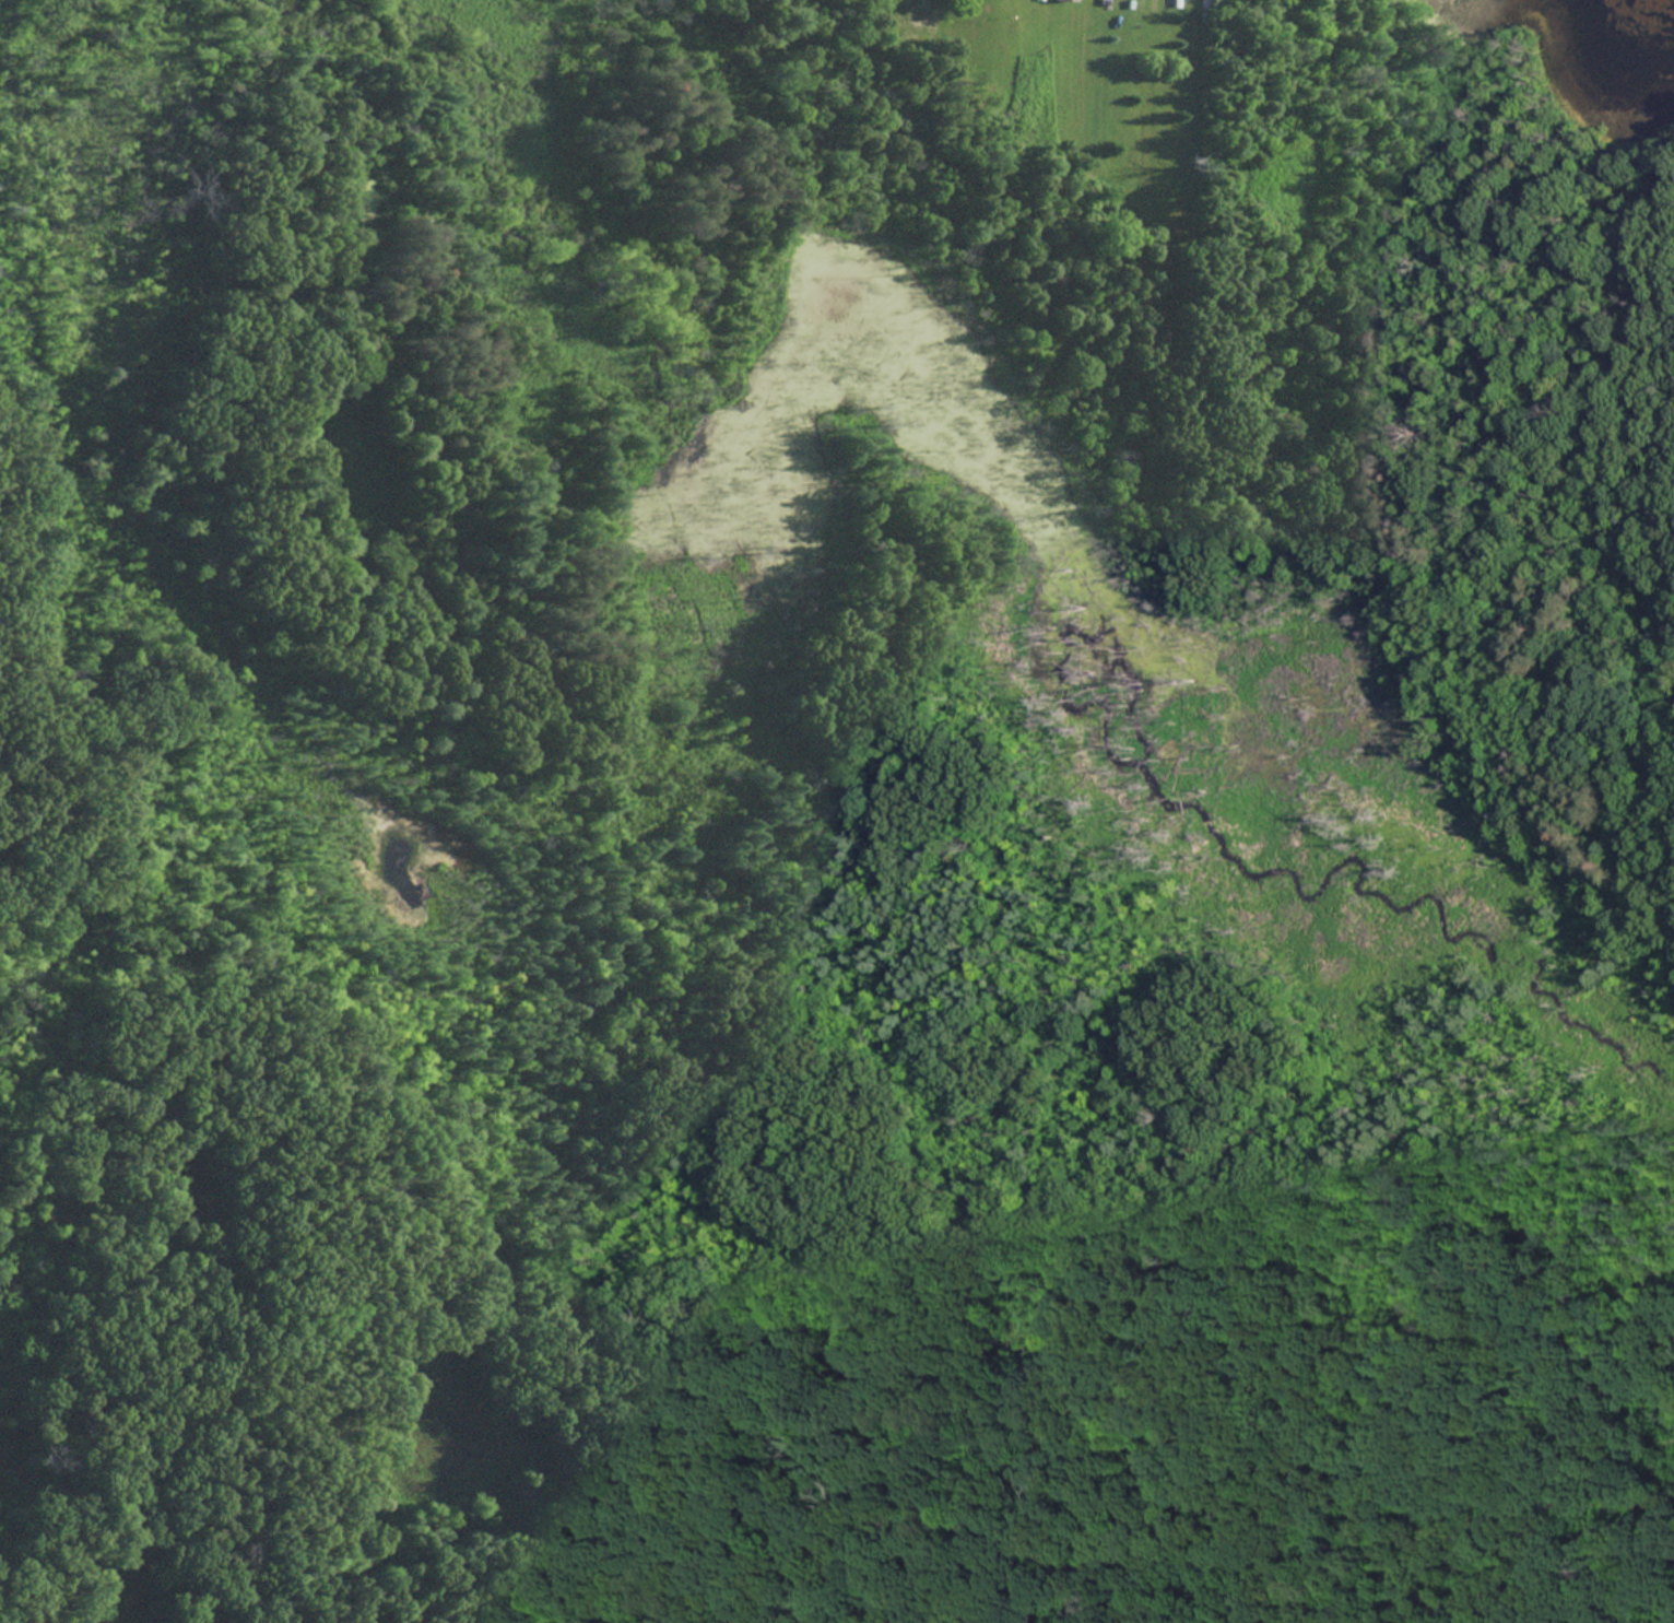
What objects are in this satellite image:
building: (1061, 0)
park: (833, 823)

